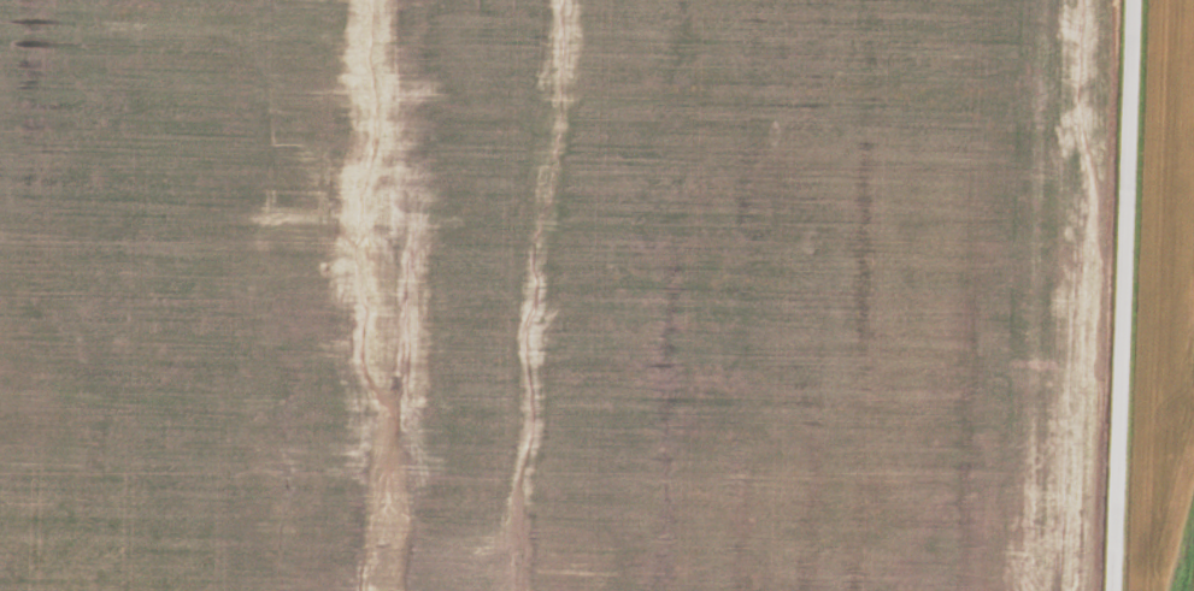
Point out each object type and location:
road: (1125, 295)

